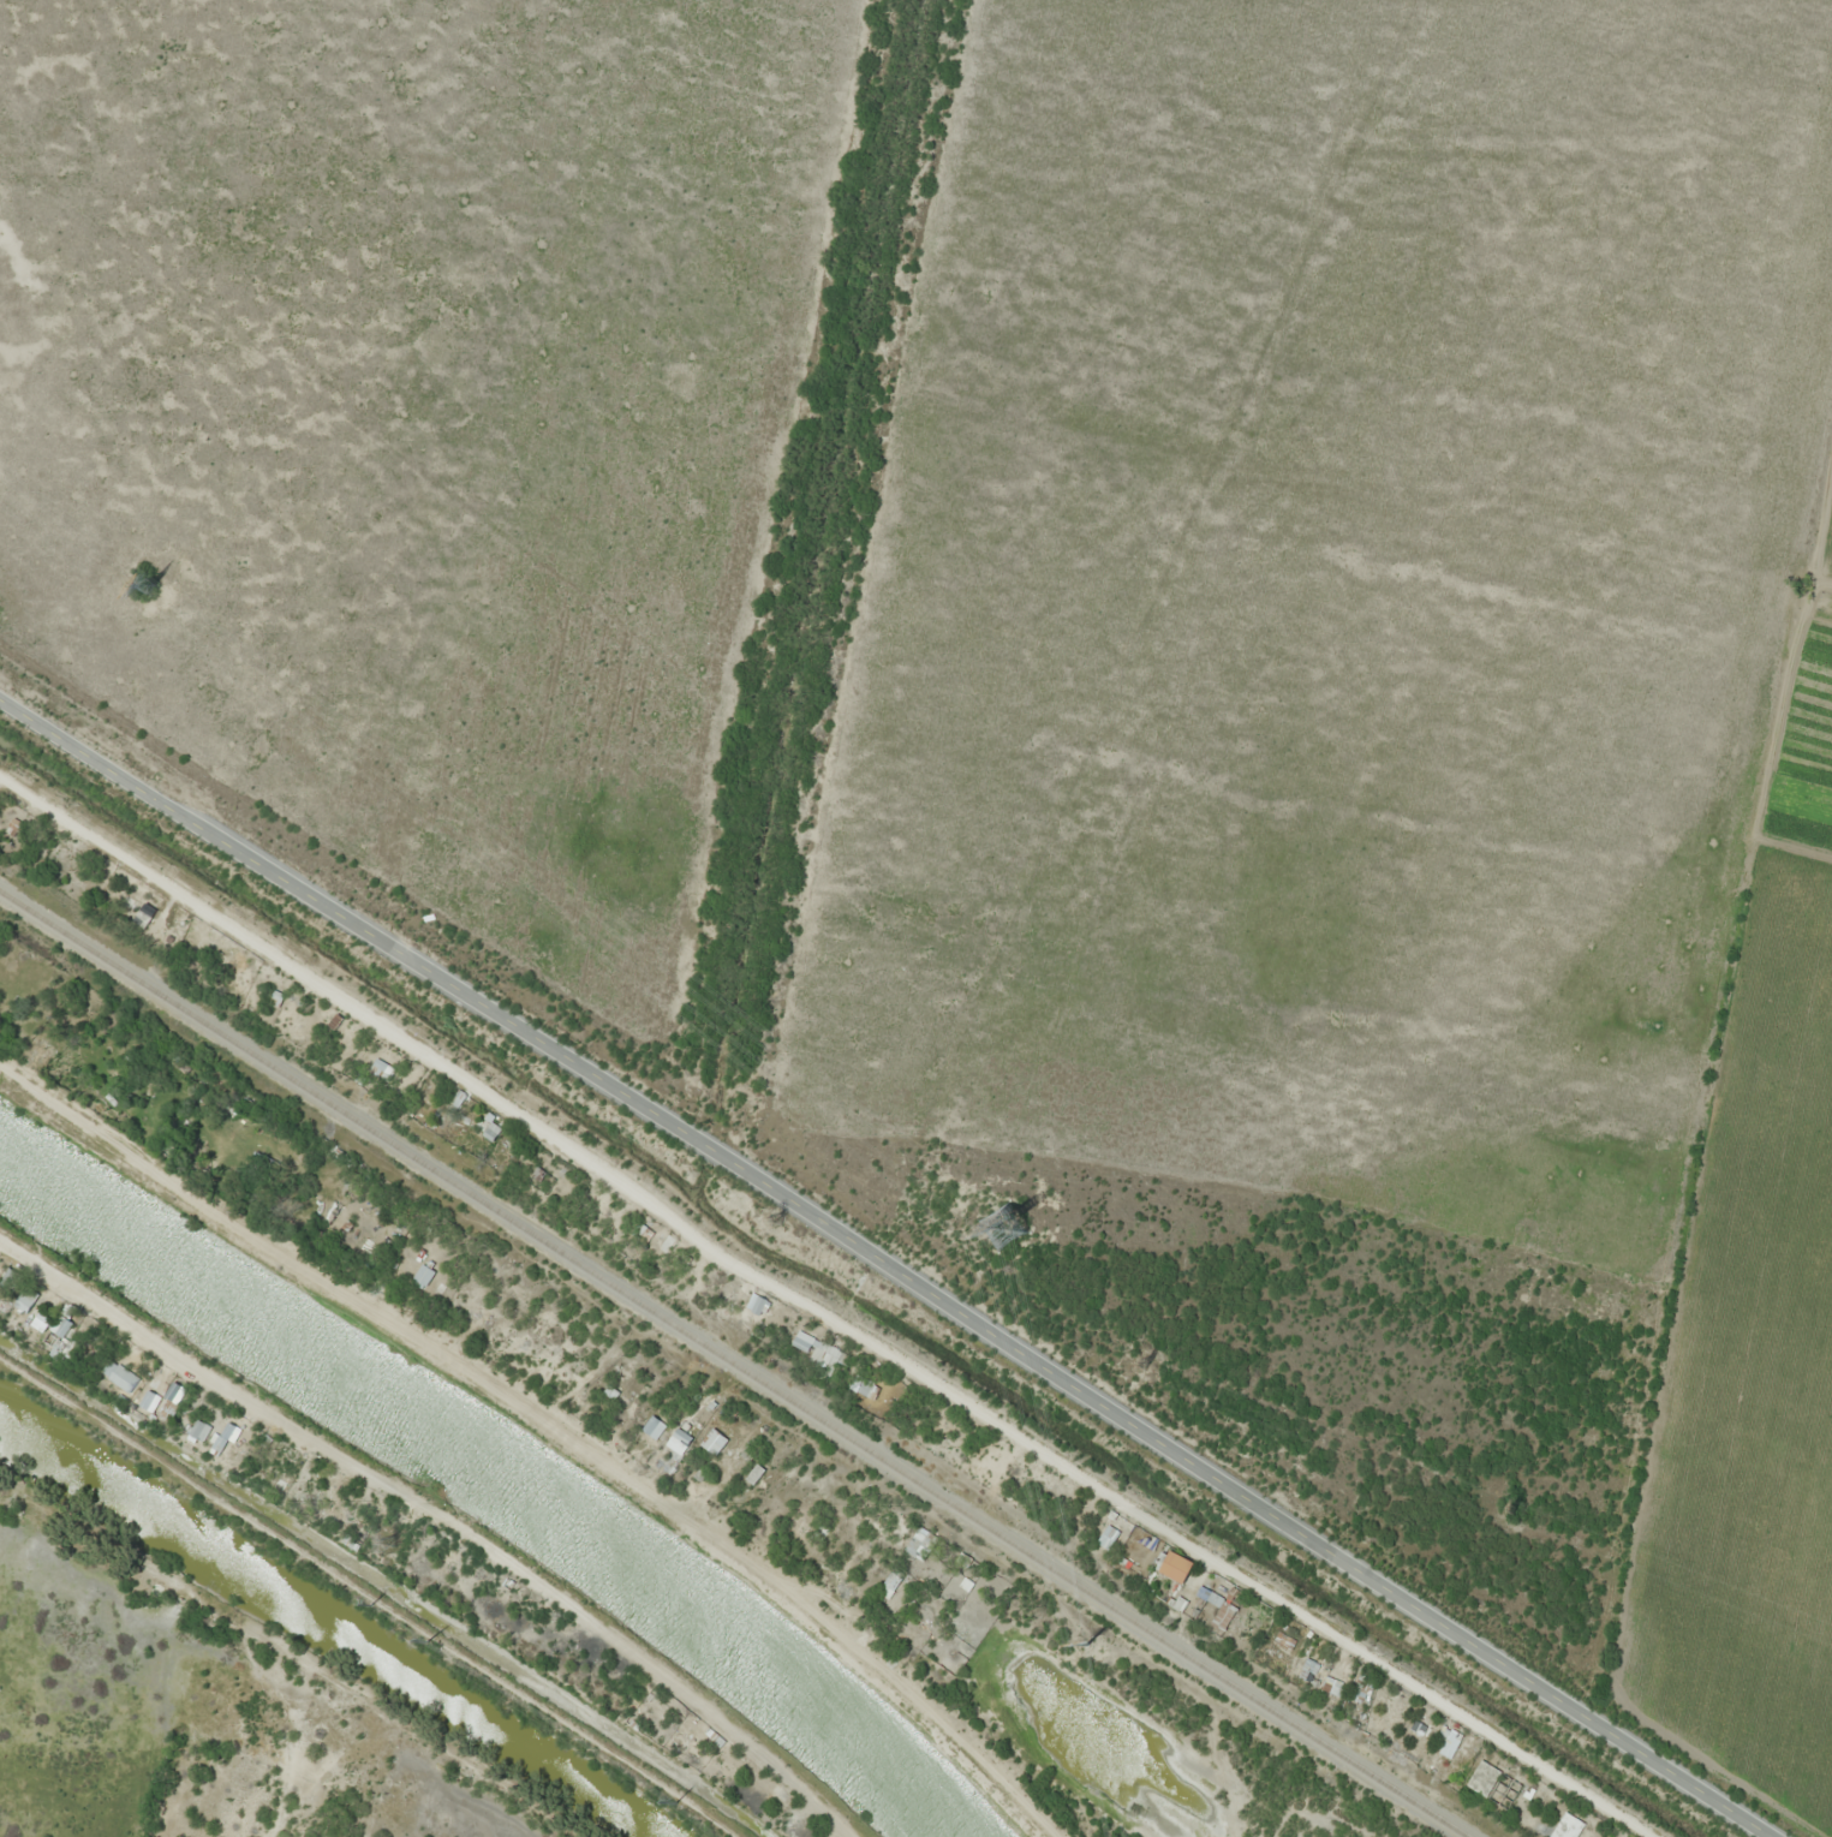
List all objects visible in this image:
power tower: (138, 569)
power tower: (780, 1219)
power tower: (995, 1221)
power tower: (1146, 1359)
power tower: (1503, 1521)
power tower: (395, 1541)
power tower: (1076, 1634)
power tower: (450, 1647)
park: (199, 1714)
power tower: (691, 1806)

